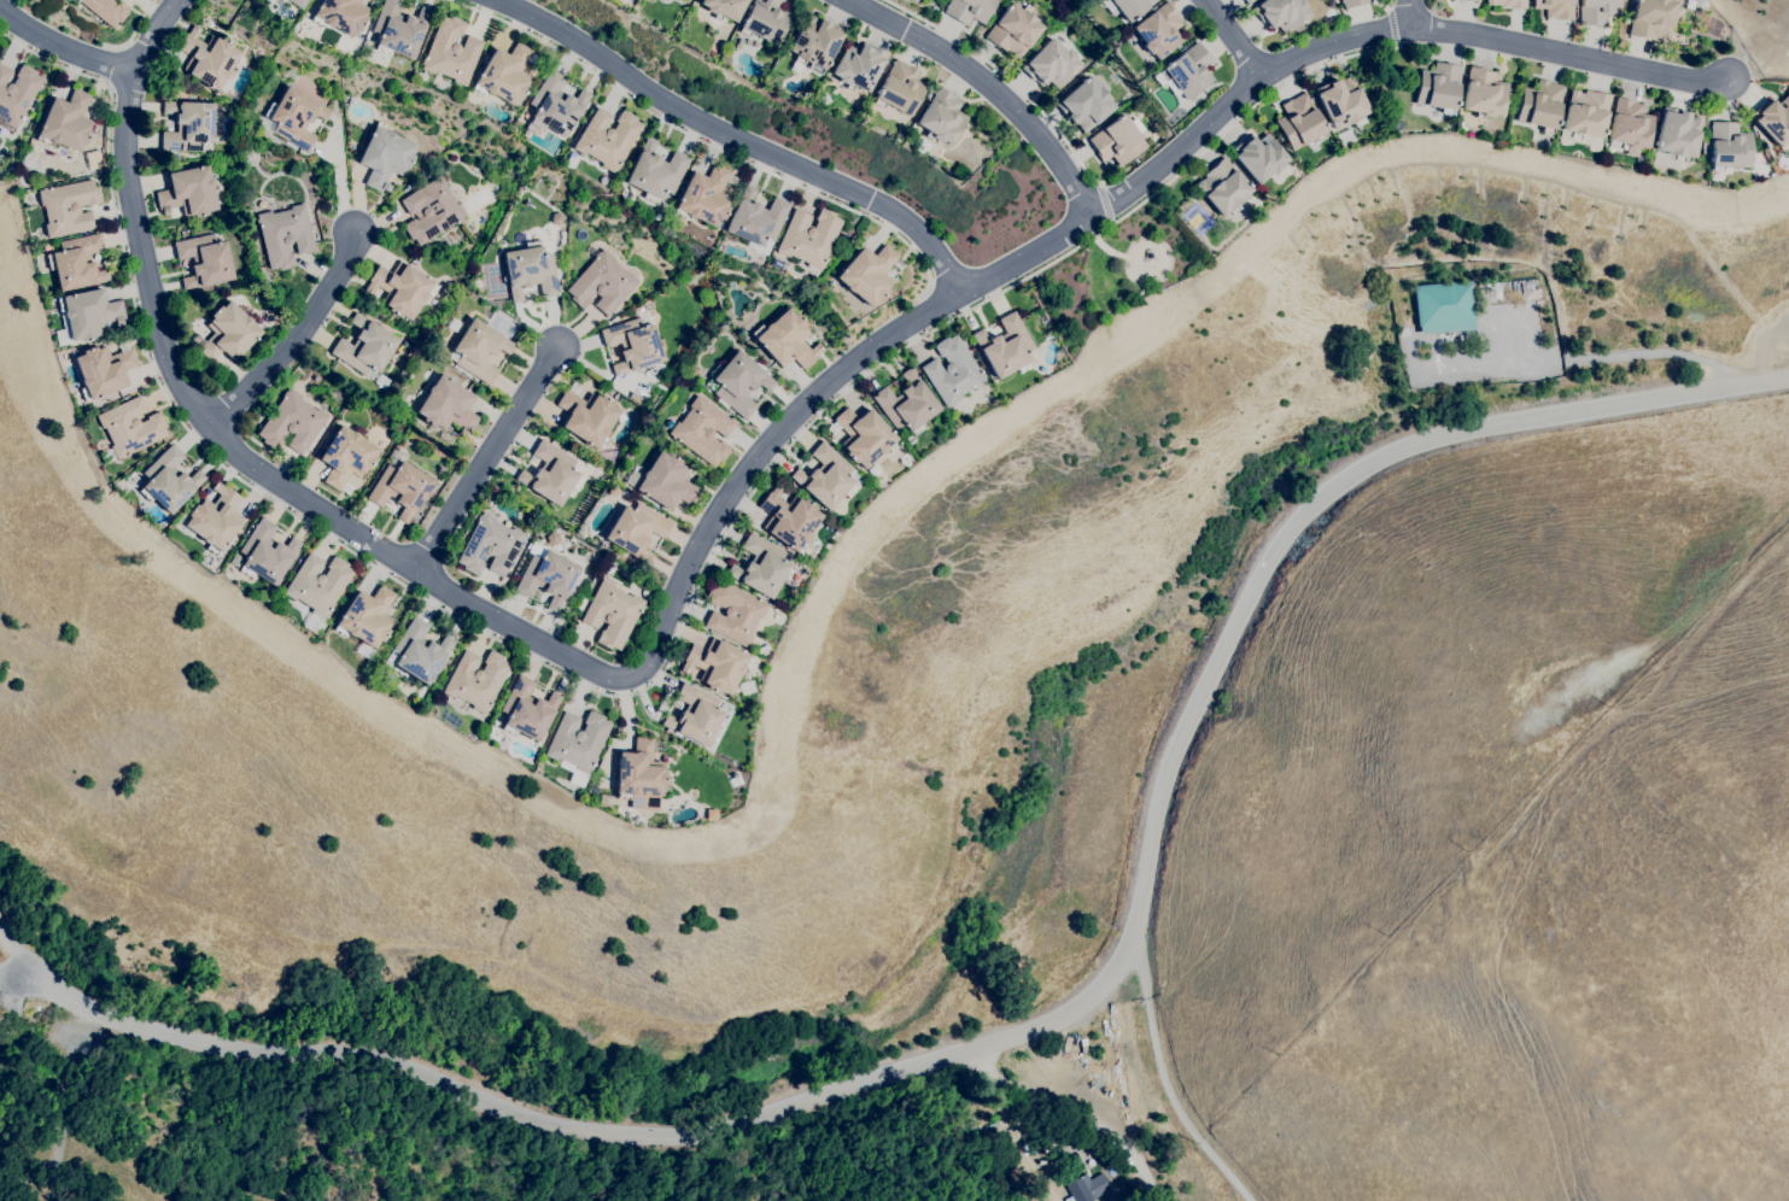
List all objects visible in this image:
building: (75, 0)
building: (913, 0)
building: (1469, 0)
building: (1247, 1)
building: (299, 2)
building: (1354, 2)
road: (1391, 2)
building: (1508, 4)
building: (723, 7)
building: (1130, 7)
building: (1555, 8)
building: (106, 10)
building: (969, 10)
building: (1597, 11)
road: (1413, 12)
building: (1281, 13)
building: (340, 14)
building: (1651, 19)
building: (764, 20)
road: (1393, 24)
building: (398, 29)
building: (1013, 30)
building: (1158, 30)
road: (135, 31)
road: (1234, 36)
building: (815, 41)
road: (63, 46)
building: (451, 51)
road: (1571, 53)
building: (209, 58)
building: (1051, 64)
road: (112, 65)
building: (858, 66)
building: (1188, 70)
building: (504, 74)
road: (1007, 76)
road: (993, 84)
building: (899, 88)
building: (1437, 90)
building: (17, 93)
building: (1484, 93)
building: (1341, 101)
building: (556, 105)
building: (1084, 105)
building: (1539, 105)
building: (293, 117)
building: (941, 117)
building: (1585, 118)
building: (1773, 119)
building: (66, 121)
building: (1300, 122)
building: (188, 125)
building: (1630, 127)
building: (1345, 136)
building: (607, 137)
road: (743, 137)
building: (1676, 137)
road: (711, 141)
building: (1117, 141)
road: (1183, 145)
building: (922, 146)
building: (1730, 146)
building: (385, 156)
building: (1258, 157)
building: (1783, 157)
building: (655, 171)
building: (1223, 187)
building: (188, 192)
building: (705, 197)
road: (1107, 199)
building: (68, 207)
building: (431, 210)
building: (557, 218)
building: (756, 221)
building: (285, 235)
building: (808, 236)
building: (205, 260)
building: (77, 262)
building: (776, 263)
building: (530, 271)
park: (1116, 271)
building: (867, 274)
building: (602, 283)
building: (402, 288)
building: (1444, 306)
building: (89, 312)
building: (229, 333)
road: (298, 336)
building: (787, 340)
building: (633, 342)
building: (366, 346)
building: (1006, 346)
building: (479, 350)
road: (1653, 352)
building: (953, 370)
building: (103, 371)
building: (737, 382)
building: (907, 403)
building: (446, 405)
building: (587, 416)
building: (292, 423)
building: (130, 427)
building: (702, 430)
building: (865, 435)
road: (486, 455)
building: (346, 456)
building: (873, 470)
building: (551, 474)
building: (828, 476)
building: (169, 480)
building: (663, 481)
building: (401, 488)
building: (613, 491)
building: (215, 519)
building: (789, 519)
building: (636, 529)
building: (554, 538)
building: (490, 545)
building: (267, 552)
building: (761, 566)
building: (546, 575)
road: (440, 582)
building: (318, 584)
building: (581, 603)
building: (612, 613)
building: (733, 613)
building: (367, 616)
building: (419, 651)
building: (718, 664)
building: (477, 679)
road: (647, 686)
building: (527, 709)
building: (696, 715)
building: (491, 733)
building: (578, 744)
building: (641, 775)
road: (4, 938)
road: (11, 947)
road: (1054, 1025)
road: (1164, 1082)
building: (1088, 1187)

